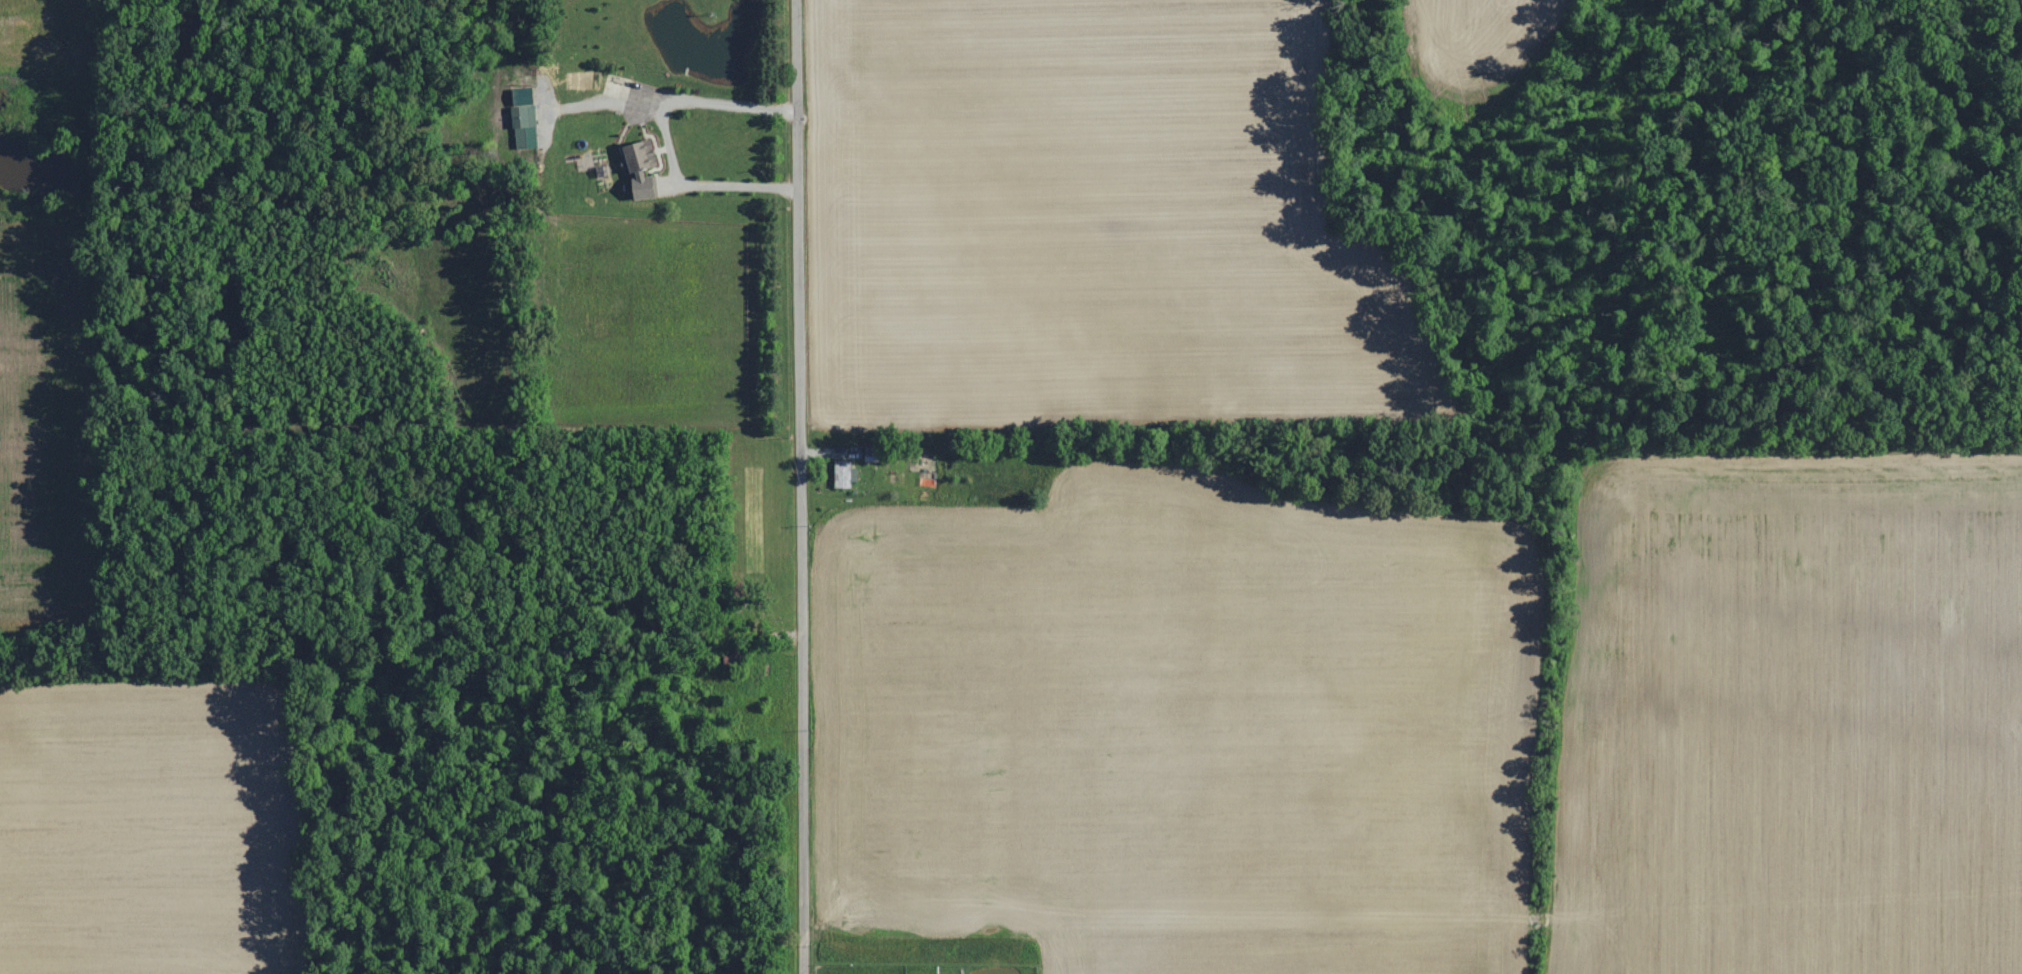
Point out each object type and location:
road: (711, 96)
building: (522, 125)
building: (639, 166)
building: (841, 472)
road: (800, 486)

